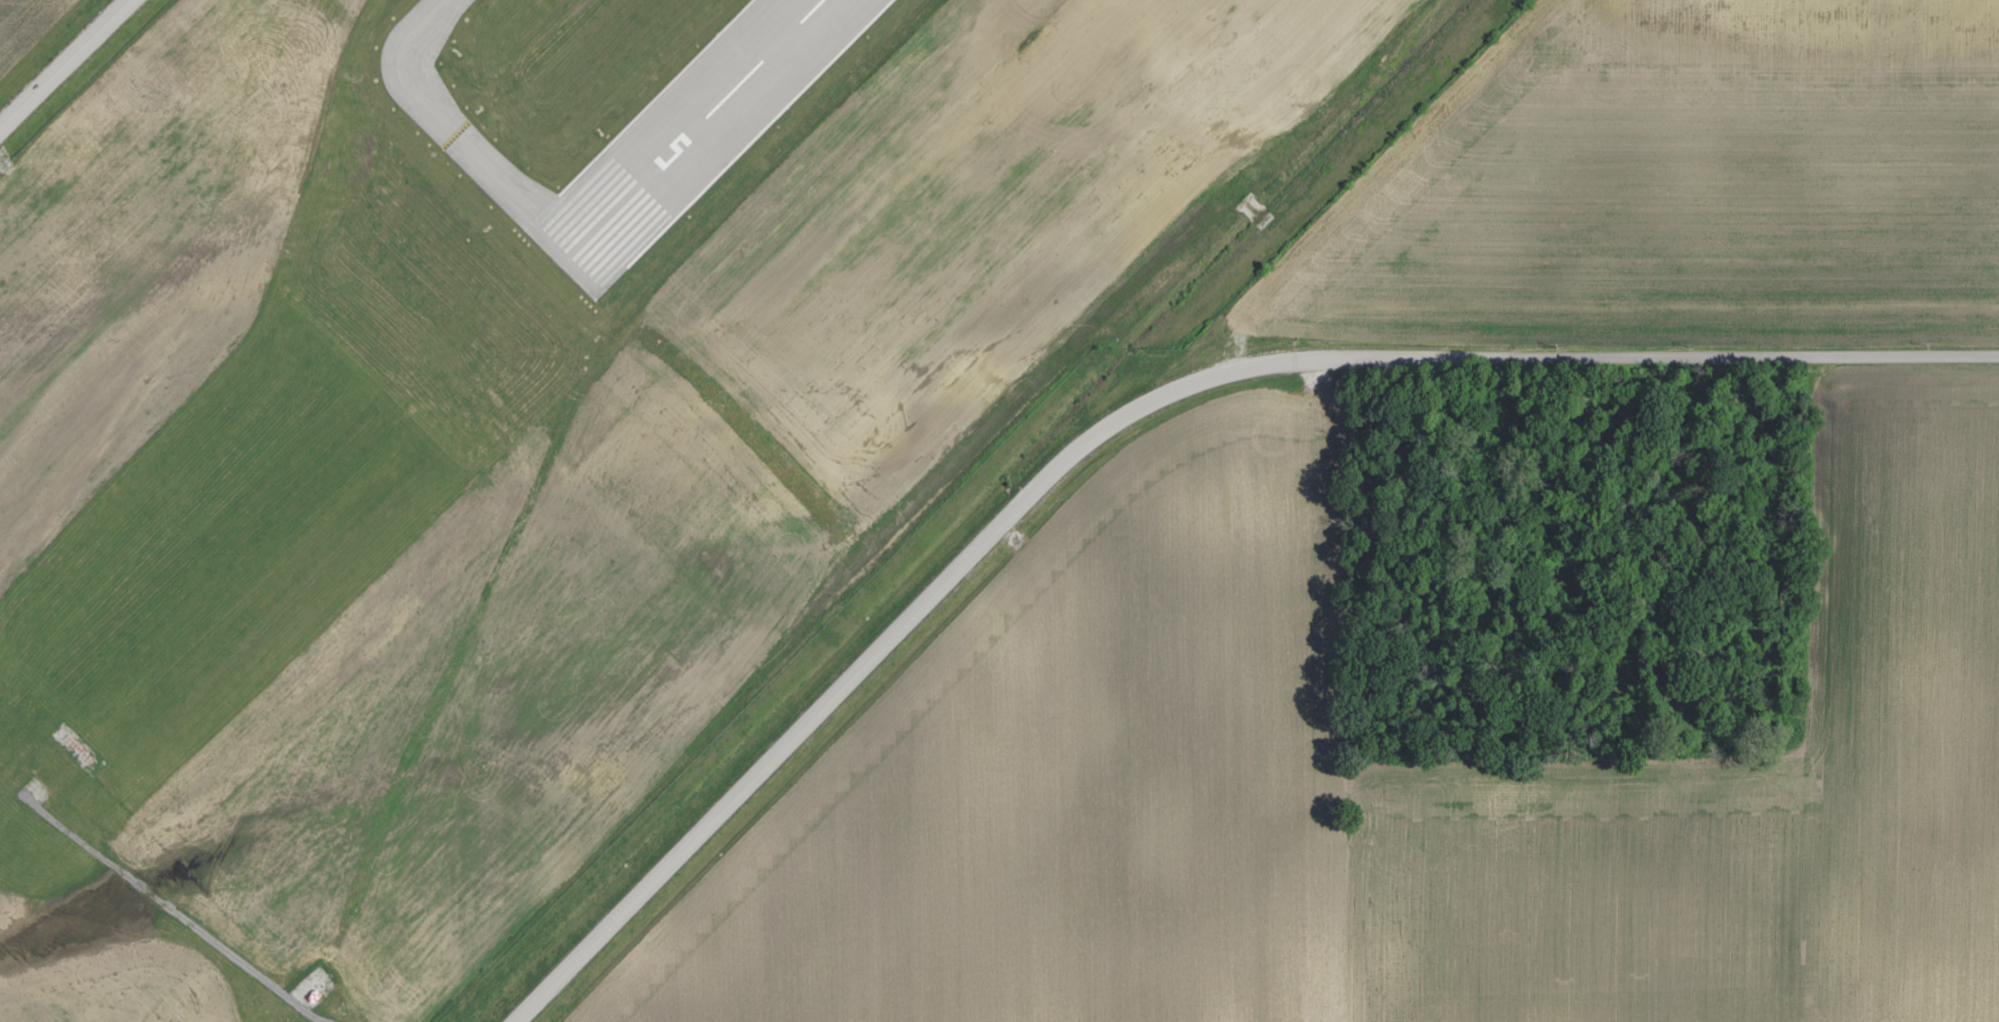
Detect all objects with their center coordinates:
road: (64, 64)
airport runway: (695, 132)
airport taxiway: (457, 134)
road: (1140, 415)
airport: (547, 420)

